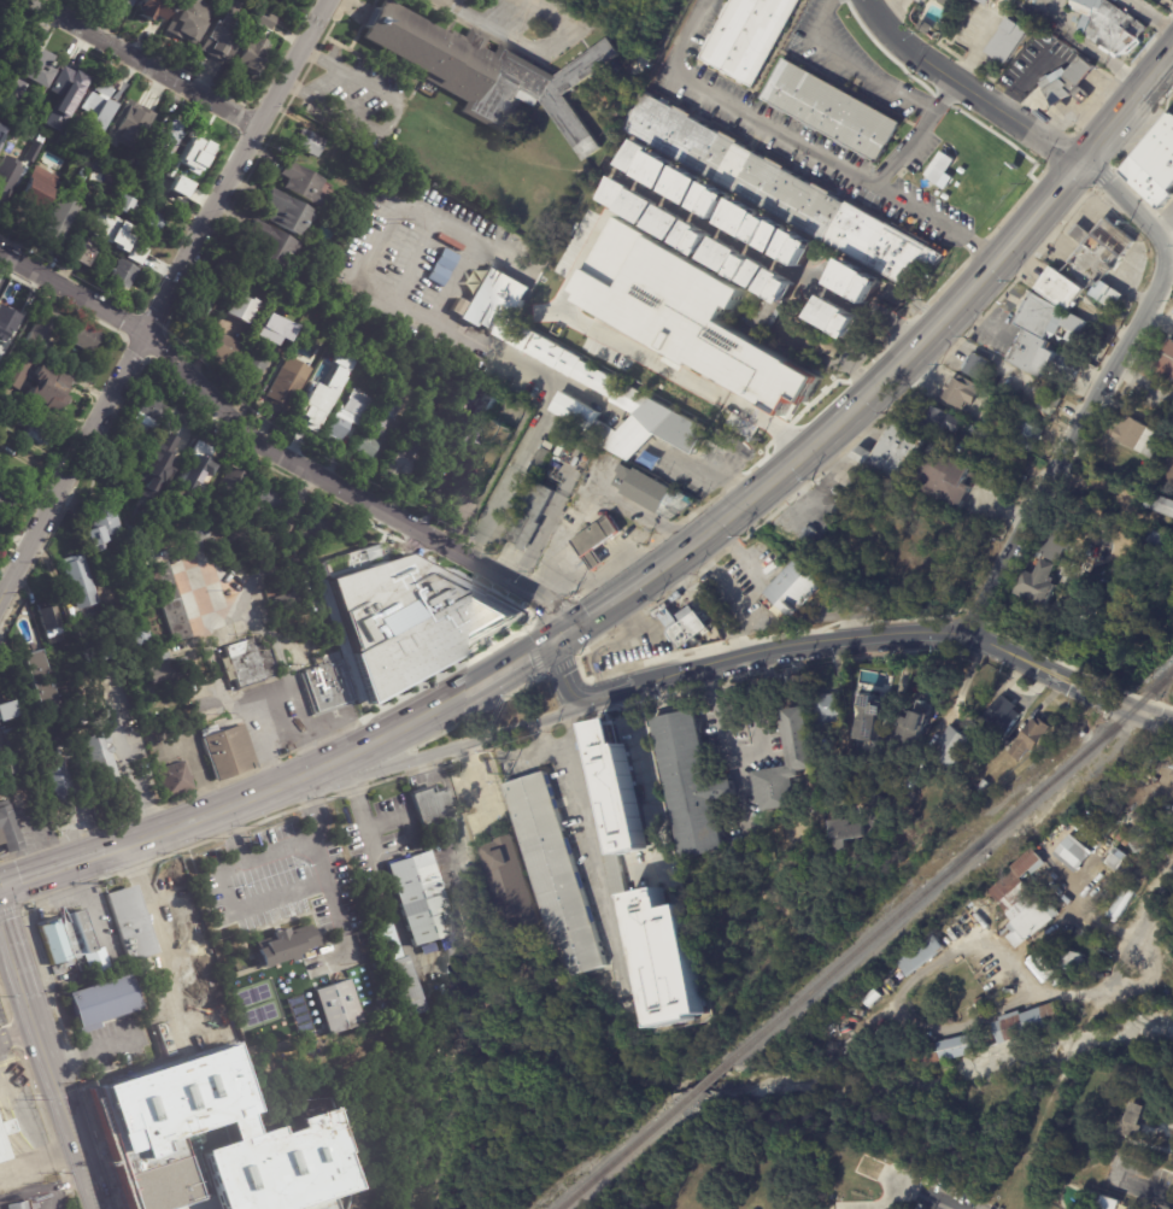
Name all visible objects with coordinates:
building: (270, 0)
building: (283, 0)
building: (985, 1)
building: (83, 2)
building: (129, 2)
building: (945, 2)
building: (952, 2)
road: (1165, 5)
building: (152, 8)
road: (885, 11)
road: (1149, 16)
building: (265, 18)
building: (189, 19)
building: (1105, 25)
building: (921, 28)
building: (221, 31)
building: (747, 36)
road: (978, 41)
building: (1007, 41)
road: (530, 45)
road: (1087, 48)
building: (1, 49)
building: (248, 57)
road: (1171, 58)
road: (140, 65)
road: (849, 66)
building: (37, 69)
building: (488, 72)
building: (2, 82)
building: (1066, 82)
building: (69, 87)
building: (11, 89)
road: (966, 89)
building: (95, 106)
building: (831, 111)
road: (394, 119)
building: (130, 125)
building: (615, 128)
road: (915, 135)
building: (1, 136)
building: (168, 137)
building: (70, 140)
building: (310, 143)
road: (799, 143)
building: (395, 147)
building: (197, 155)
building: (635, 155)
building: (1153, 163)
building: (939, 168)
building: (659, 169)
building: (83, 175)
building: (99, 175)
building: (7, 176)
building: (40, 180)
building: (303, 184)
building: (687, 186)
building: (180, 187)
building: (620, 189)
building: (781, 189)
building: (169, 190)
building: (118, 192)
building: (716, 200)
building: (645, 203)
road: (1074, 203)
building: (141, 212)
building: (99, 213)
building: (288, 213)
building: (744, 217)
building: (674, 221)
building: (59, 222)
road: (1077, 227)
building: (774, 233)
building: (703, 236)
road: (1167, 239)
building: (127, 243)
building: (271, 243)
building: (800, 247)
building: (82, 252)
building: (731, 252)
road: (767, 254)
road: (1020, 260)
building: (1097, 260)
building: (244, 263)
building: (442, 268)
building: (761, 268)
building: (123, 274)
building: (786, 283)
building: (862, 283)
building: (1058, 288)
road: (72, 295)
road: (164, 299)
building: (201, 309)
building: (240, 309)
building: (12, 313)
building: (686, 313)
building: (764, 316)
building: (837, 317)
building: (82, 330)
building: (1044, 341)
building: (825, 344)
building: (227, 347)
building: (269, 347)
road: (632, 354)
road: (492, 356)
road: (827, 360)
building: (978, 365)
building: (1163, 365)
road: (891, 371)
building: (16, 374)
building: (577, 375)
building: (336, 383)
building: (48, 389)
building: (285, 389)
building: (961, 389)
road: (1101, 392)
building: (476, 400)
building: (1046, 405)
building: (309, 410)
building: (346, 415)
building: (148, 417)
building: (943, 418)
building: (379, 421)
building: (30, 426)
building: (176, 429)
building: (978, 430)
building: (433, 432)
building: (1027, 436)
building: (556, 438)
building: (956, 444)
building: (1144, 445)
building: (481, 446)
building: (549, 446)
building: (891, 451)
building: (975, 454)
building: (401, 456)
building: (129, 457)
building: (540, 462)
building: (201, 465)
building: (996, 469)
road: (708, 475)
building: (950, 480)
building: (233, 483)
road: (352, 492)
building: (652, 493)
building: (169, 495)
building: (268, 500)
building: (5, 504)
building: (1161, 504)
building: (529, 517)
building: (101, 526)
building: (315, 527)
building: (817, 527)
building: (180, 530)
building: (597, 540)
building: (1159, 541)
road: (275, 542)
building: (1055, 544)
building: (763, 545)
building: (316, 552)
building: (80, 582)
building: (1039, 585)
building: (797, 588)
building: (148, 592)
building: (1083, 600)
building: (170, 603)
building: (286, 604)
building: (410, 621)
building: (49, 622)
building: (690, 626)
building: (130, 634)
road: (888, 635)
traffic signals: (558, 639)
road: (282, 653)
building: (159, 655)
building: (223, 657)
building: (251, 664)
road: (514, 664)
building: (168, 670)
road: (567, 677)
building: (35, 681)
road: (963, 682)
building: (327, 686)
road: (224, 687)
building: (5, 708)
road: (627, 710)
building: (832, 710)
building: (1005, 711)
building: (74, 712)
building: (873, 715)
building: (920, 724)
road: (564, 726)
road: (538, 733)
building: (1031, 738)
building: (154, 740)
road: (555, 740)
road: (268, 744)
building: (800, 744)
road: (458, 746)
building: (954, 746)
road: (523, 749)
building: (228, 752)
building: (6, 756)
road: (747, 756)
building: (100, 761)
road: (131, 762)
building: (1149, 763)
road: (198, 765)
building: (57, 779)
building: (175, 780)
building: (913, 780)
building: (1130, 780)
road: (293, 782)
building: (693, 783)
building: (984, 785)
building: (620, 786)
building: (434, 809)
road: (310, 810)
road: (458, 812)
road: (652, 815)
building: (848, 822)
building: (8, 829)
building: (1058, 840)
building: (1139, 843)
building: (1048, 844)
road: (301, 847)
building: (1074, 850)
building: (662, 856)
road: (593, 857)
building: (1028, 861)
railway: (952, 865)
road: (53, 868)
building: (621, 868)
building: (558, 871)
building: (511, 882)
building: (1110, 882)
building: (421, 896)
building: (181, 900)
road: (393, 902)
building: (1021, 905)
road: (246, 908)
building: (1097, 920)
building: (963, 921)
building: (1061, 922)
building: (131, 927)
road: (1146, 927)
building: (1086, 934)
road: (16, 939)
building: (71, 940)
building: (447, 944)
building: (285, 945)
building: (389, 946)
building: (433, 946)
road: (181, 947)
building: (925, 956)
building: (669, 958)
building: (1073, 959)
building: (1045, 966)
building: (957, 970)
building: (406, 981)
building: (967, 985)
road: (1057, 992)
building: (395, 999)
building: (101, 1000)
building: (149, 1003)
building: (338, 1005)
building: (1028, 1022)
road: (20, 1026)
road: (919, 1027)
parking lot: (4, 1049)
road: (94, 1049)
building: (949, 1049)
railway: (698, 1086)
building: (128, 1088)
building: (153, 1096)
road: (65, 1098)
road: (17, 1114)
building: (1133, 1121)
building: (5, 1126)
building: (140, 1128)
building: (172, 1128)
park: (1020, 1128)
road: (1168, 1140)
road: (1109, 1143)
building: (0, 1157)
road: (40, 1158)
railway: (612, 1160)
building: (175, 1179)
road: (57, 1185)
road: (1144, 1185)
road: (926, 1199)
building: (178, 1203)
building: (17, 1205)
building: (1127, 1205)
building: (195, 1207)
building: (1099, 1208)
building: (1136, 1208)

